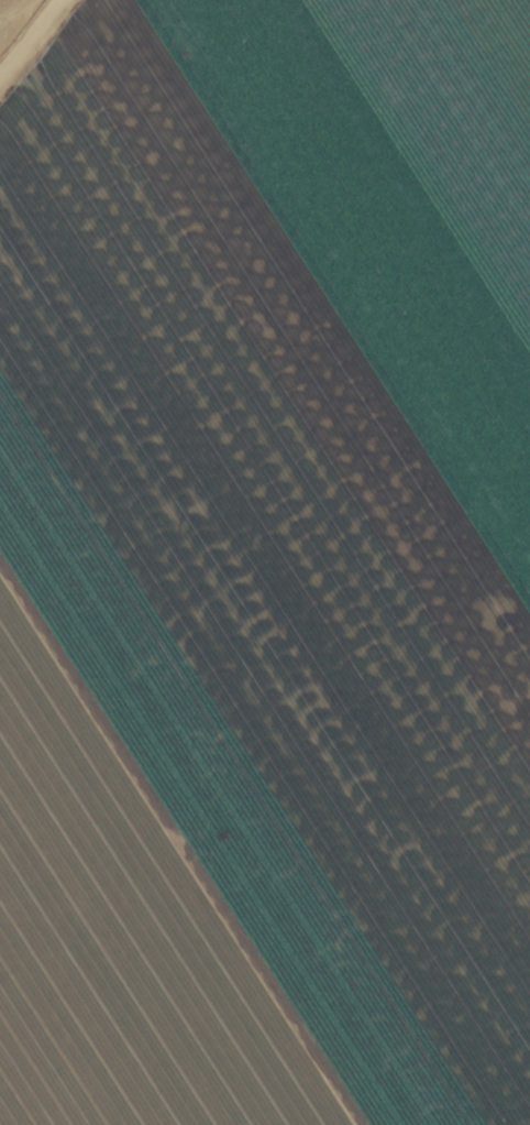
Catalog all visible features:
road: (78, 88)
crop: (265, 562)

